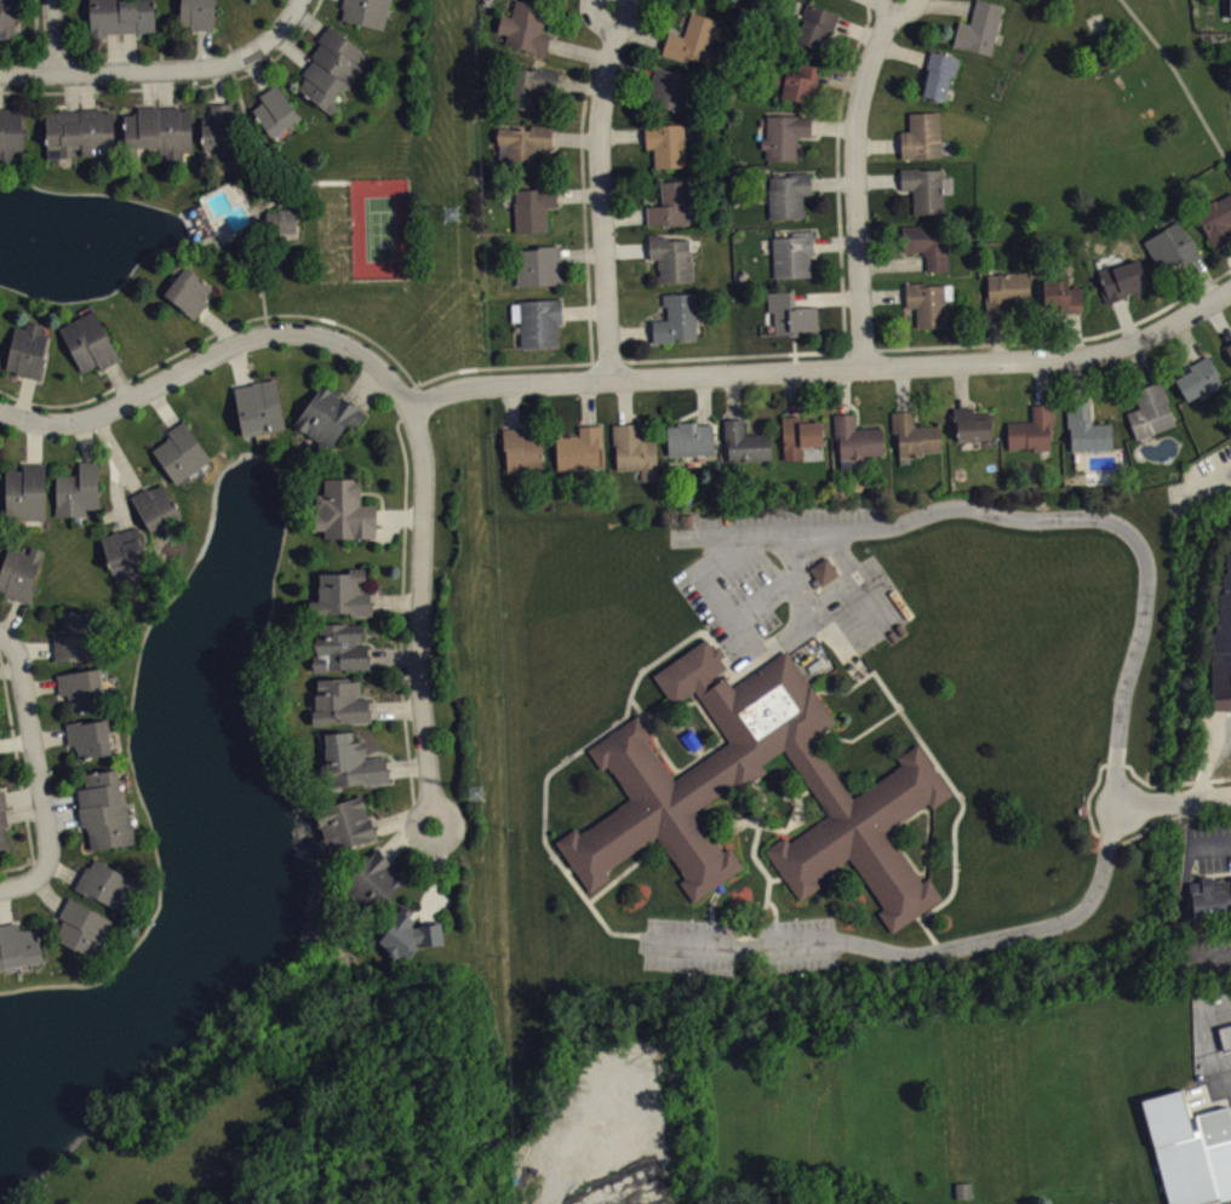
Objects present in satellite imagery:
building: (688, 0)
building: (829, 0)
road: (607, 1)
road: (608, 1)
road: (609, 1)
road: (612, 1)
road: (947, 4)
building: (1227, 6)
road: (294, 8)
building: (366, 11)
building: (197, 13)
building: (120, 16)
building: (7, 18)
park: (1095, 21)
building: (815, 24)
building: (525, 27)
building: (979, 27)
road: (858, 29)
road: (640, 33)
road: (35, 36)
road: (52, 36)
building: (692, 40)
road: (202, 48)
road: (578, 50)
road: (130, 51)
road: (901, 51)
road: (113, 52)
building: (331, 68)
road: (630, 68)
road: (151, 70)
road: (257, 70)
building: (938, 73)
road: (840, 80)
building: (794, 81)
road: (1180, 81)
road: (221, 82)
road: (579, 84)
building: (529, 85)
road: (176, 86)
road: (166, 87)
road: (148, 88)
road: (87, 90)
building: (671, 90)
road: (71, 91)
building: (274, 109)
park: (1101, 121)
road: (832, 126)
building: (218, 128)
building: (79, 131)
building: (160, 131)
road: (622, 133)
building: (10, 134)
building: (784, 134)
building: (921, 134)
road: (254, 136)
road: (574, 137)
building: (666, 143)
road: (877, 143)
building: (523, 145)
road: (836, 171)
road: (877, 178)
road: (855, 179)
road: (832, 182)
road: (600, 189)
building: (926, 189)
building: (786, 194)
road: (578, 195)
road: (282, 200)
building: (670, 203)
building: (533, 206)
road: (583, 207)
road: (624, 214)
power tower: (453, 216)
building: (1215, 218)
building: (282, 219)
park: (384, 224)
park: (345, 225)
road: (835, 241)
building: (927, 243)
building: (1170, 246)
road: (256, 247)
road: (1227, 247)
road: (625, 248)
road: (582, 253)
building: (791, 253)
building: (671, 257)
road: (892, 263)
building: (537, 264)
building: (1121, 277)
road: (1204, 277)
building: (189, 287)
building: (1007, 291)
building: (1060, 293)
road: (882, 294)
road: (826, 297)
building: (928, 302)
road: (583, 310)
building: (790, 314)
building: (676, 316)
road: (1124, 319)
building: (537, 320)
road: (1219, 320)
road: (219, 325)
road: (630, 332)
road: (1073, 332)
road: (997, 337)
road: (1061, 338)
building: (90, 339)
road: (1187, 339)
building: (28, 348)
building: (1227, 348)
road: (860, 349)
road: (733, 354)
road: (211, 355)
road: (607, 361)
road: (239, 363)
road: (1138, 363)
road: (828, 367)
road: (136, 374)
road: (1075, 378)
building: (1197, 378)
road: (120, 380)
road: (1040, 380)
road: (362, 382)
road: (417, 383)
road: (960, 383)
road: (416, 384)
road: (903, 386)
road: (841, 390)
road: (789, 392)
road: (732, 395)
road: (23, 396)
road: (704, 399)
road: (624, 400)
road: (588, 402)
building: (260, 403)
road: (164, 405)
road: (510, 405)
building: (1150, 409)
building: (328, 412)
road: (406, 415)
building: (971, 423)
building: (1086, 428)
building: (1032, 429)
building: (798, 434)
building: (912, 434)
building: (689, 437)
road: (86, 438)
building: (854, 438)
road: (35, 441)
building: (745, 441)
building: (578, 447)
building: (634, 448)
building: (182, 449)
building: (521, 449)
road: (118, 451)
building: (78, 488)
building: (27, 489)
road: (118, 492)
building: (156, 503)
building: (343, 509)
road: (400, 514)
road: (1044, 517)
building: (126, 547)
road: (846, 551)
road: (794, 555)
building: (824, 568)
building: (21, 571)
parking lot: (785, 577)
building: (826, 579)
road: (777, 590)
building: (340, 592)
road: (395, 601)
road: (420, 614)
road: (12, 618)
road: (400, 625)
building: (78, 635)
road: (2, 637)
building: (1221, 643)
building: (339, 647)
road: (35, 648)
road: (394, 654)
road: (663, 654)
building: (84, 684)
road: (41, 686)
road: (892, 698)
building: (339, 701)
road: (639, 706)
road: (396, 707)
building: (90, 734)
road: (50, 736)
building: (349, 758)
building: (0, 761)
road: (35, 761)
road: (407, 764)
building: (681, 782)
road: (773, 791)
road: (23, 792)
power tower: (477, 795)
road: (1175, 798)
road: (62, 801)
road: (1088, 801)
building: (105, 808)
road: (24, 810)
road: (958, 813)
road: (62, 816)
road: (403, 816)
building: (2, 819)
building: (347, 821)
road: (768, 824)
road: (407, 833)
road: (62, 870)
road: (436, 873)
building: (374, 879)
building: (108, 881)
road: (572, 881)
road: (15, 883)
road: (46, 894)
road: (591, 896)
building: (1210, 896)
road: (712, 901)
road: (769, 904)
building: (84, 923)
building: (408, 933)
road: (931, 933)
building: (18, 945)
parking lot: (740, 945)
road: (927, 952)
building: (1225, 1034)
building: (1190, 1147)
building: (967, 1198)

